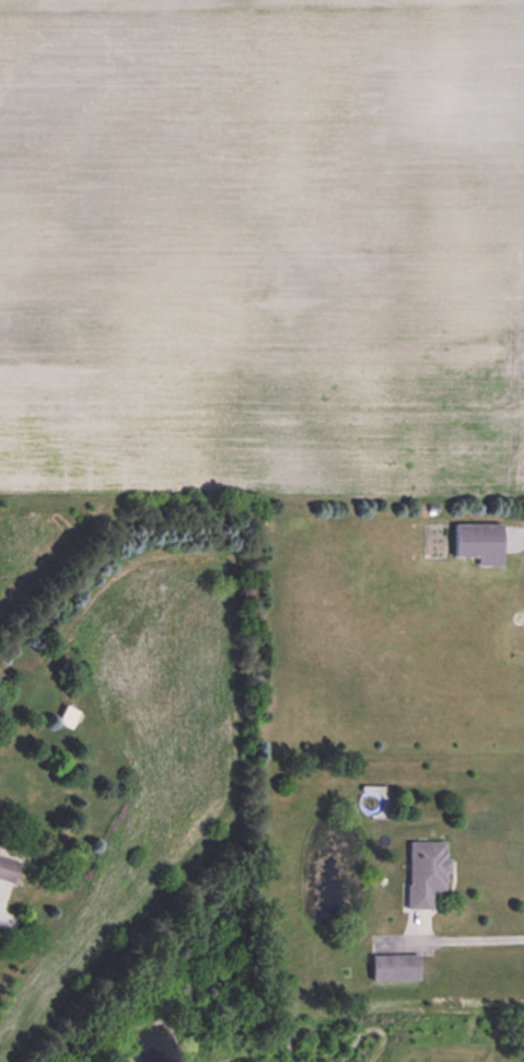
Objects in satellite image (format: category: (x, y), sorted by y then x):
building: (477, 542)
building: (66, 716)
building: (7, 868)
building: (422, 871)
road: (1, 892)
road: (457, 937)
building: (393, 967)

